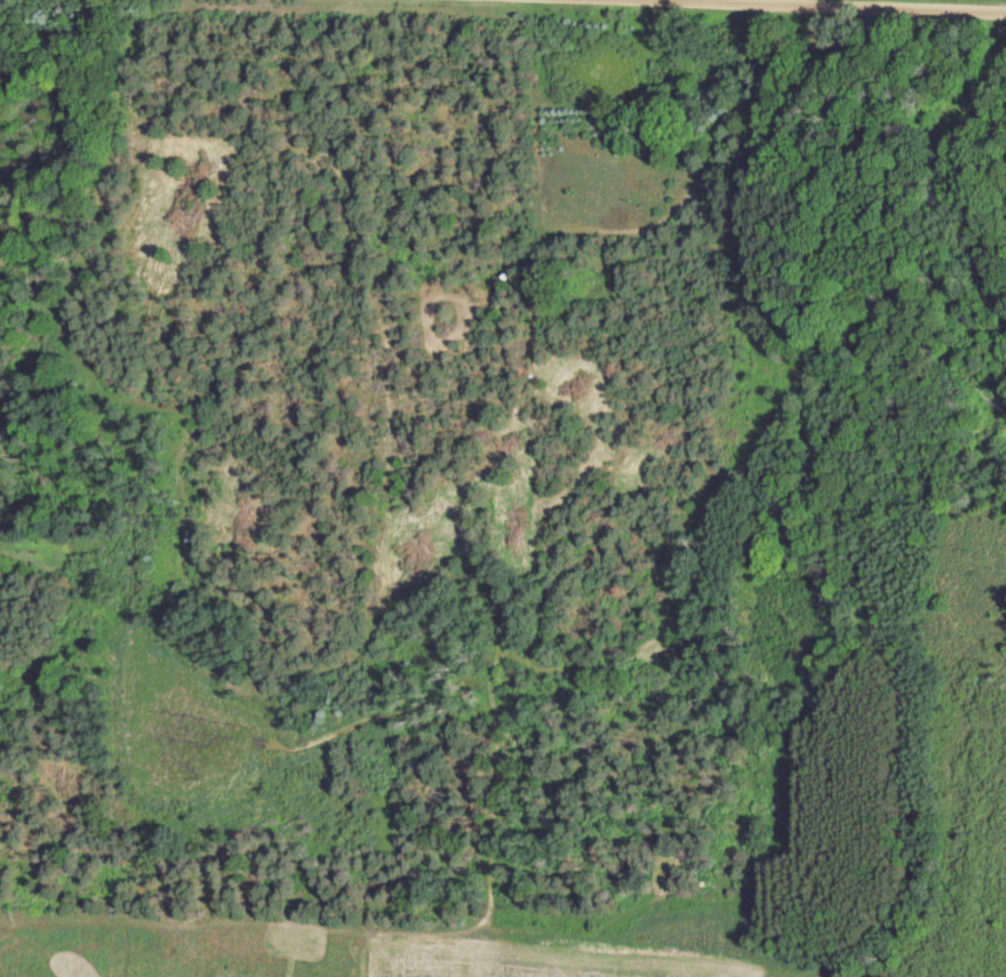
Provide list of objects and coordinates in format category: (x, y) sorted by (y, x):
road: (884, 4)

